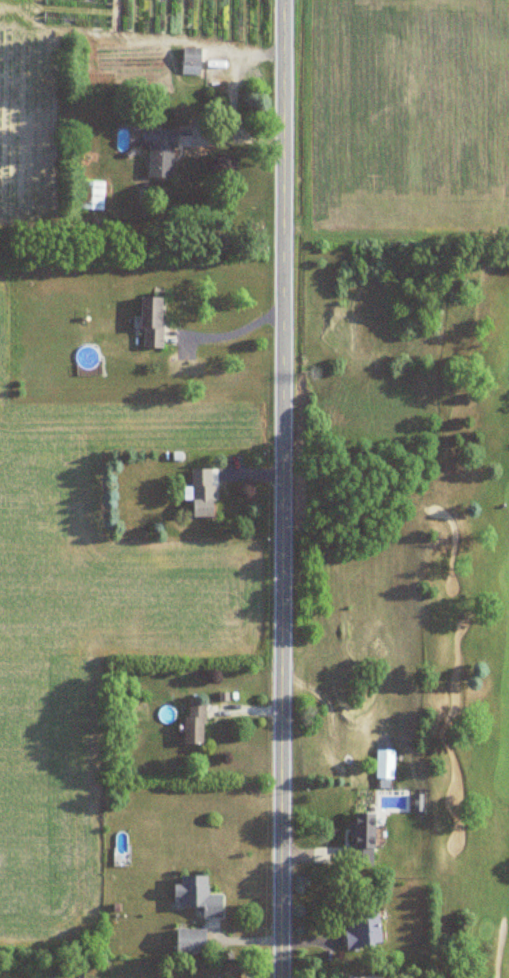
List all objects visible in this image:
building: (80, 3)
building: (77, 19)
building: (191, 61)
road: (230, 73)
road: (231, 139)
building: (160, 152)
building: (90, 196)
building: (152, 323)
road: (232, 328)
road: (285, 488)
building: (203, 493)
park: (463, 609)
building: (195, 723)
building: (365, 832)
building: (198, 894)
building: (362, 929)
building: (191, 940)
road: (499, 948)
road: (264, 969)

